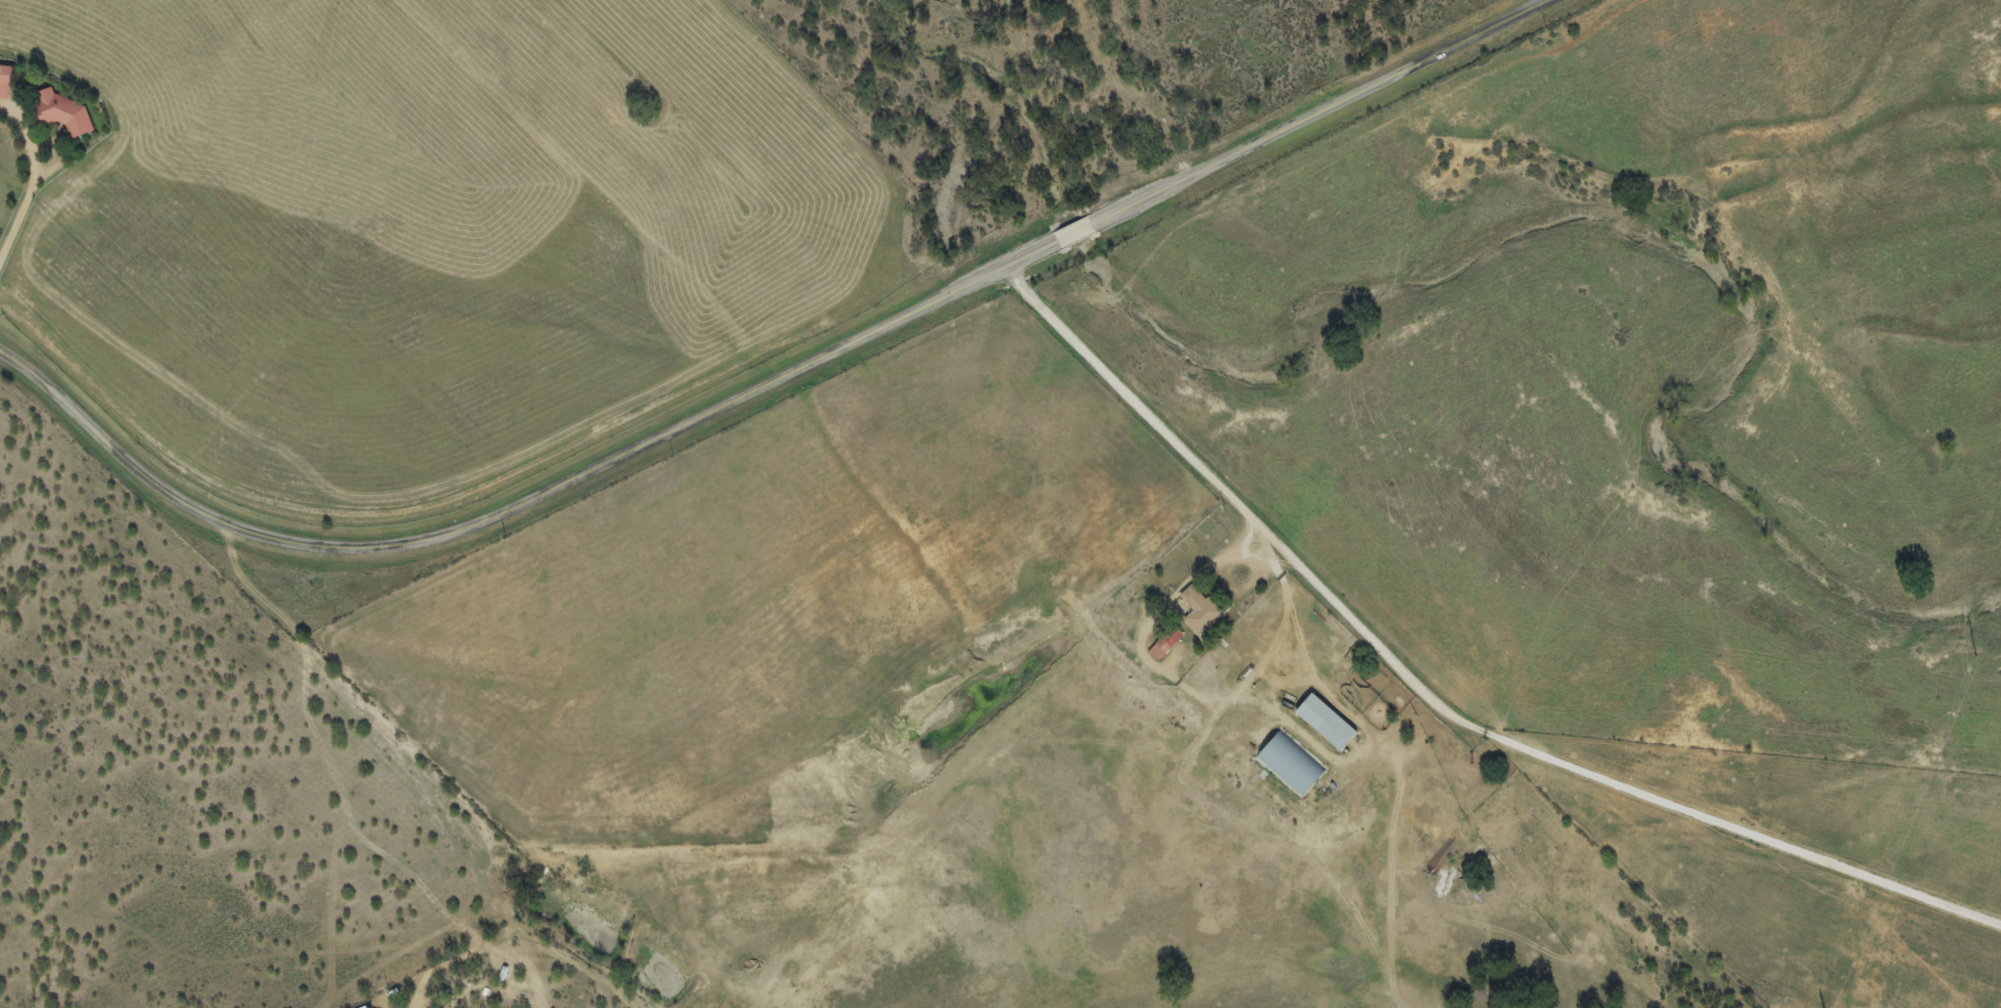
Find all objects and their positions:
building: (6, 82)
building: (66, 114)
road: (768, 381)
building: (1200, 609)
road: (1432, 702)
building: (1329, 723)
building: (1292, 766)

